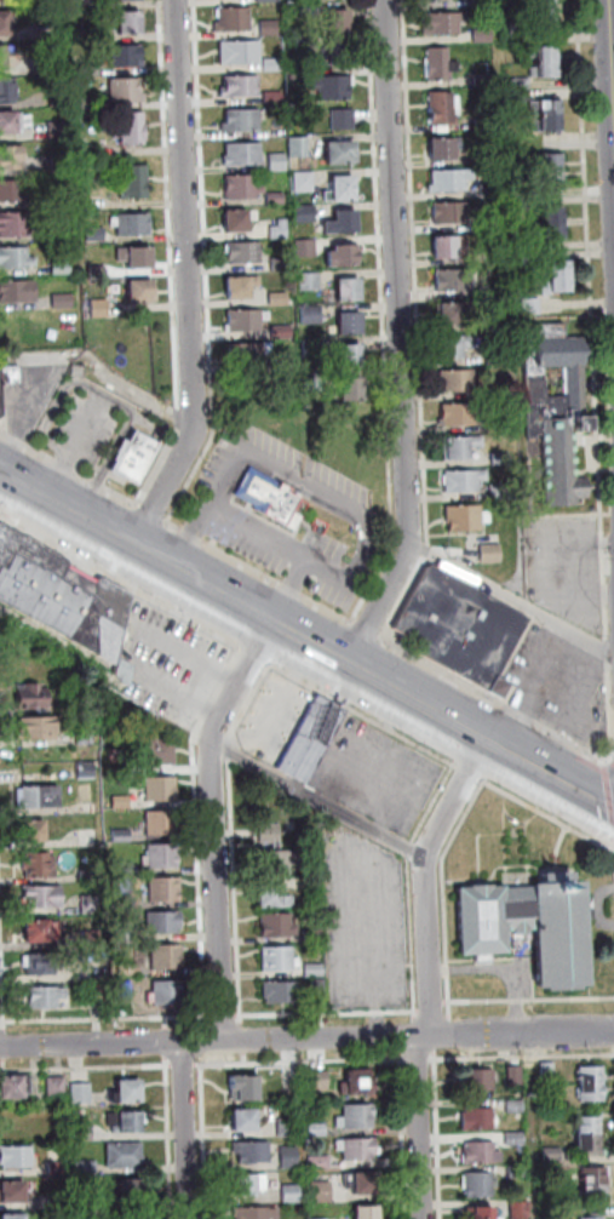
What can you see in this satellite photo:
building: (7, 0)
building: (127, 0)
building: (266, 0)
building: (437, 0)
building: (56, 2)
building: (483, 4)
building: (310, 10)
road: (613, 10)
building: (547, 12)
building: (235, 21)
building: (339, 21)
building: (5, 23)
building: (131, 23)
building: (444, 23)
building: (270, 28)
building: (521, 29)
building: (91, 35)
building: (484, 35)
building: (306, 42)
building: (241, 52)
building: (338, 55)
building: (127, 56)
building: (4, 58)
building: (547, 62)
building: (57, 64)
building: (274, 64)
building: (441, 64)
building: (91, 69)
building: (484, 80)
building: (522, 84)
building: (242, 87)
building: (334, 87)
building: (8, 90)
building: (128, 91)
building: (523, 96)
building: (59, 98)
building: (275, 98)
building: (93, 103)
building: (444, 108)
building: (551, 115)
building: (345, 120)
building: (242, 121)
building: (7, 122)
building: (487, 124)
building: (133, 128)
building: (59, 130)
building: (300, 147)
building: (443, 149)
building: (93, 153)
building: (344, 153)
building: (245, 154)
building: (11, 158)
building: (490, 158)
building: (279, 162)
building: (64, 165)
building: (552, 170)
building: (452, 181)
building: (305, 182)
building: (136, 183)
building: (243, 188)
building: (345, 189)
building: (492, 190)
building: (13, 191)
building: (277, 198)
building: (306, 213)
building: (453, 213)
building: (237, 222)
building: (344, 223)
building: (556, 223)
building: (15, 224)
building: (136, 225)
building: (285, 229)
building: (64, 234)
building: (97, 234)
building: (306, 248)
building: (453, 248)
building: (245, 252)
building: (138, 257)
building: (343, 257)
road: (173, 258)
building: (533, 258)
building: (16, 259)
building: (281, 264)
road: (208, 267)
building: (63, 268)
building: (98, 271)
building: (560, 277)
building: (311, 281)
building: (455, 281)
road: (193, 282)
building: (242, 287)
building: (18, 291)
building: (350, 291)
road: (592, 291)
building: (143, 292)
building: (94, 296)
building: (279, 299)
building: (64, 301)
building: (533, 305)
building: (101, 308)
building: (312, 315)
road: (385, 315)
building: (452, 315)
building: (246, 320)
building: (352, 325)
road: (419, 325)
building: (498, 326)
building: (282, 331)
road: (403, 340)
building: (453, 348)
building: (314, 349)
building: (247, 354)
building: (499, 354)
building: (351, 356)
building: (285, 361)
building: (315, 380)
building: (458, 380)
building: (8, 382)
parking lot: (38, 388)
building: (354, 390)
building: (500, 391)
road: (59, 407)
road: (24, 408)
building: (556, 410)
building: (463, 413)
building: (498, 425)
parking lot: (91, 428)
building: (463, 447)
road: (78, 448)
road: (117, 452)
building: (138, 458)
building: (503, 459)
road: (70, 469)
building: (466, 481)
road: (308, 485)
building: (503, 492)
building: (274, 498)
road: (208, 511)
road: (155, 514)
building: (466, 519)
road: (259, 533)
road: (566, 537)
parking lot: (573, 545)
building: (493, 553)
road: (323, 567)
road: (262, 572)
road: (120, 583)
road: (562, 591)
road: (607, 595)
road: (513, 597)
building: (62, 599)
road: (248, 613)
road: (608, 623)
road: (368, 629)
building: (461, 630)
road: (608, 651)
road: (256, 657)
road: (541, 669)
building: (125, 673)
parking lot: (556, 680)
road: (612, 689)
building: (33, 697)
road: (495, 702)
road: (251, 704)
road: (572, 704)
road: (363, 715)
building: (38, 729)
building: (86, 736)
building: (315, 738)
road: (231, 751)
building: (157, 754)
road: (520, 760)
road: (613, 760)
road: (613, 762)
building: (88, 772)
road: (471, 773)
building: (162, 790)
road: (579, 791)
road: (609, 796)
building: (40, 799)
road: (321, 800)
building: (122, 801)
road: (551, 815)
building: (165, 823)
road: (216, 825)
building: (272, 832)
building: (35, 834)
building: (125, 836)
building: (90, 837)
building: (163, 855)
building: (280, 862)
building: (44, 866)
road: (444, 866)
building: (125, 869)
building: (91, 875)
road: (409, 882)
road: (237, 888)
building: (166, 889)
building: (45, 898)
building: (275, 898)
building: (127, 903)
building: (92, 904)
parking lot: (366, 920)
building: (166, 922)
building: (281, 925)
building: (42, 933)
building: (130, 934)
building: (316, 935)
building: (558, 938)
building: (168, 958)
building: (281, 960)
building: (41, 963)
building: (317, 969)
road: (449, 969)
road: (505, 969)
road: (435, 975)
building: (321, 986)
building: (283, 992)
building: (98, 995)
building: (168, 995)
road: (449, 996)
building: (47, 998)
road: (532, 1000)
road: (432, 1006)
road: (329, 1013)
road: (306, 1038)
road: (524, 1057)
building: (549, 1072)
building: (516, 1076)
building: (292, 1080)
building: (320, 1081)
building: (481, 1082)
building: (358, 1084)
building: (592, 1086)
building: (58, 1087)
building: (15, 1088)
building: (246, 1089)
building: (82, 1094)
building: (128, 1094)
building: (516, 1108)
building: (358, 1117)
building: (478, 1120)
building: (246, 1122)
building: (128, 1123)
building: (291, 1127)
building: (84, 1129)
building: (319, 1129)
road: (190, 1131)
building: (590, 1134)
building: (516, 1139)
building: (360, 1149)
building: (254, 1152)
building: (553, 1154)
building: (482, 1155)
building: (126, 1156)
building: (19, 1157)
building: (291, 1157)
building: (321, 1162)
building: (59, 1168)
building: (87, 1168)
building: (518, 1173)
building: (365, 1184)
building: (596, 1184)
building: (249, 1185)
building: (480, 1186)
building: (131, 1192)
building: (323, 1192)
building: (293, 1194)
building: (13, 1195)
building: (86, 1200)
building: (62, 1201)
building: (520, 1211)
building: (258, 1213)
building: (368, 1213)
building: (482, 1214)
building: (590, 1215)
building: (15, 1217)
building: (325, 1218)

